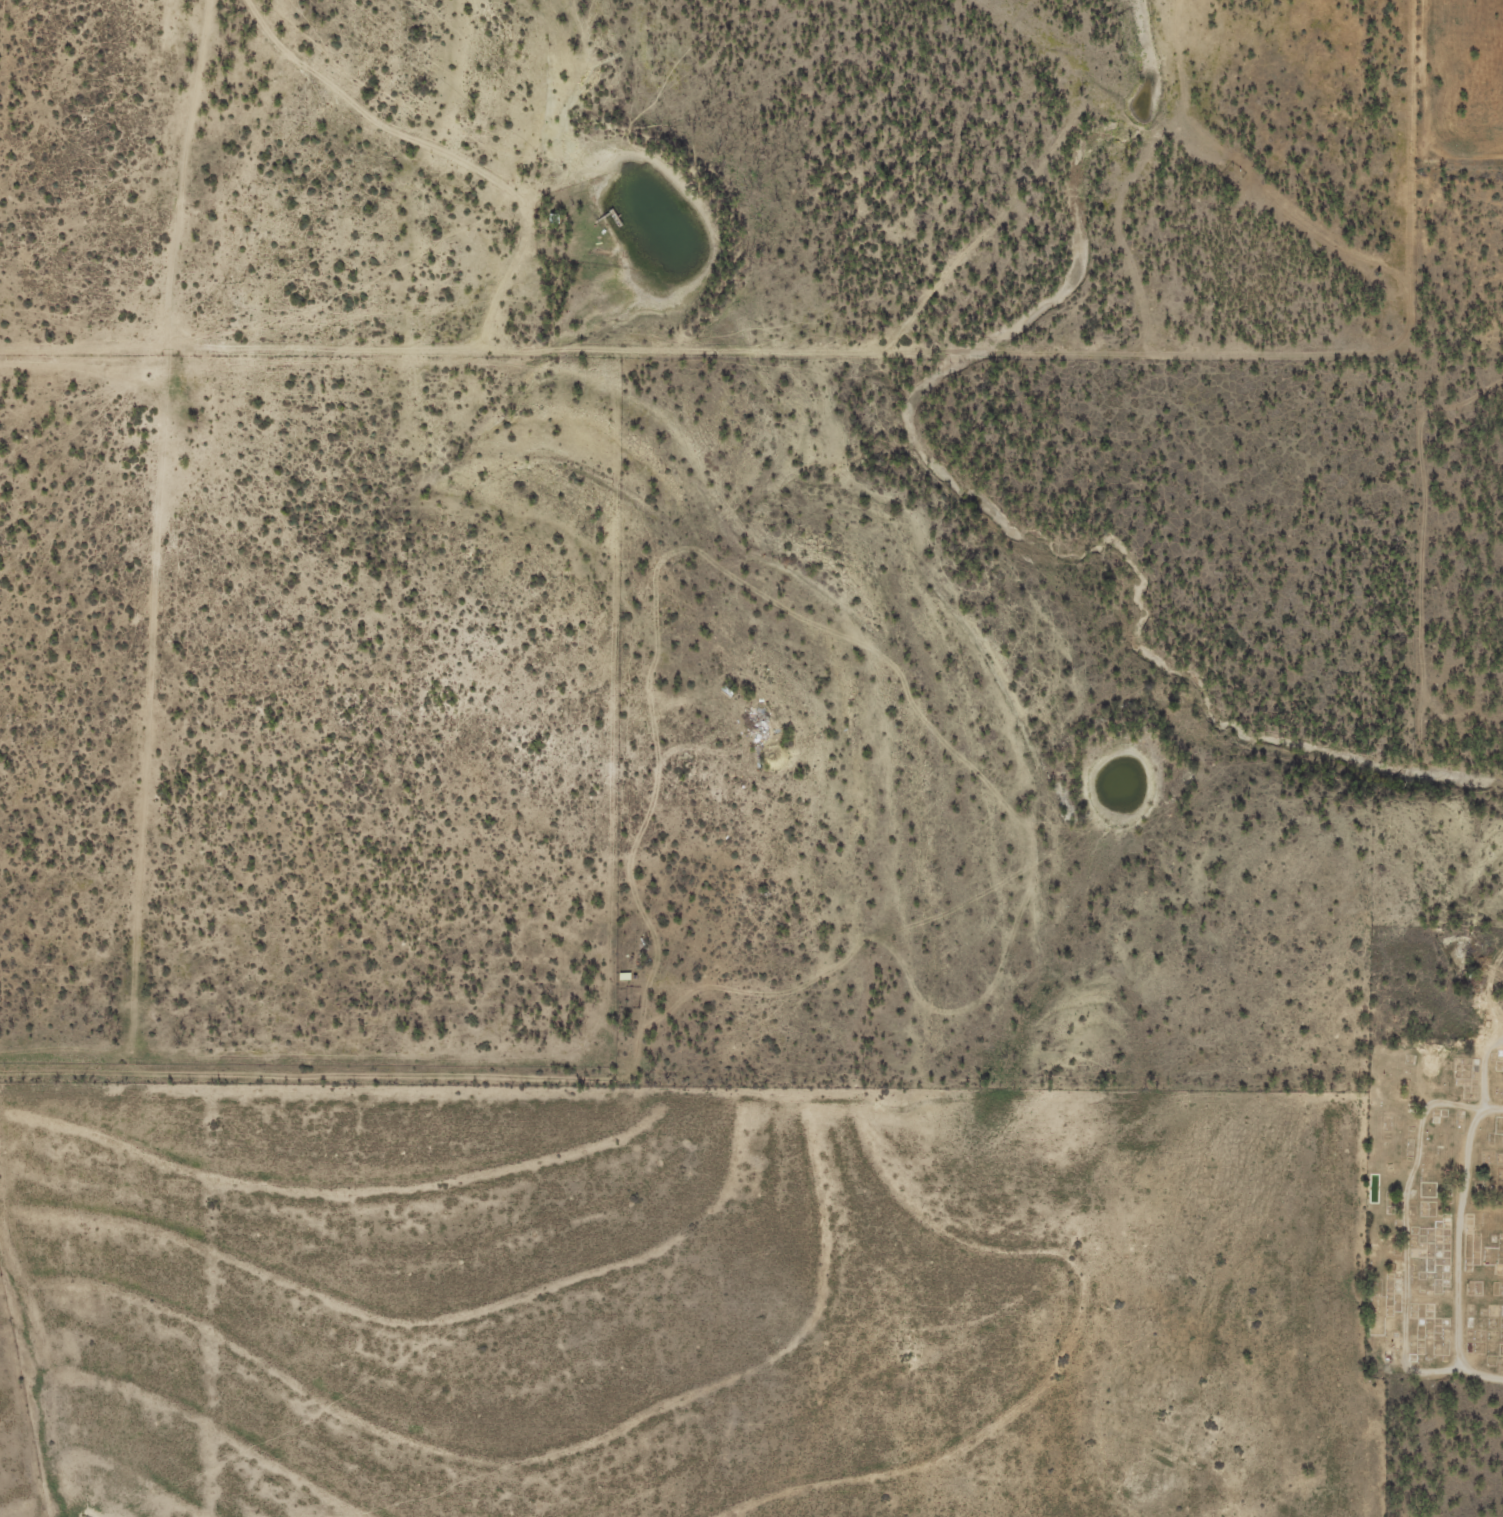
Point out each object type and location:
park: (1435, 1156)

